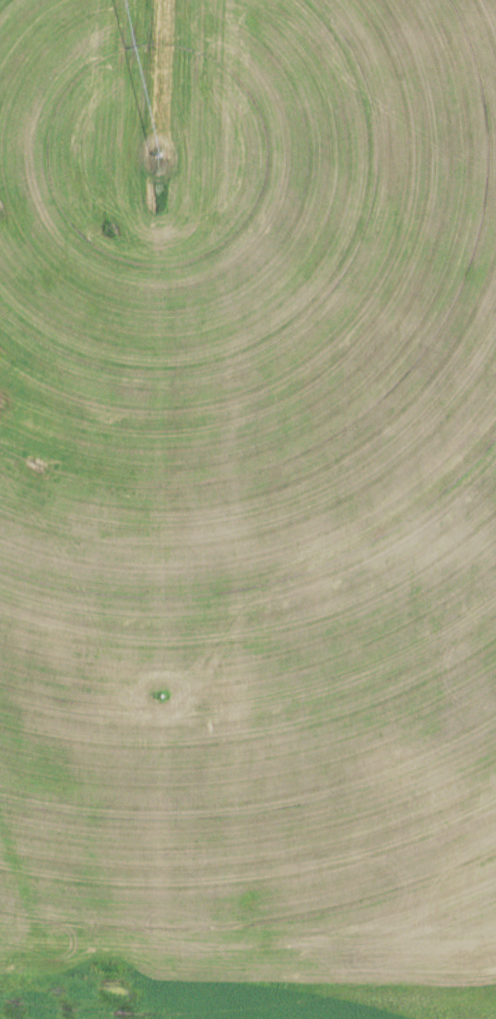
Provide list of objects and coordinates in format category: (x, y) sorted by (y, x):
wastewater plant: (248, 509)
crop: (240, 998)

